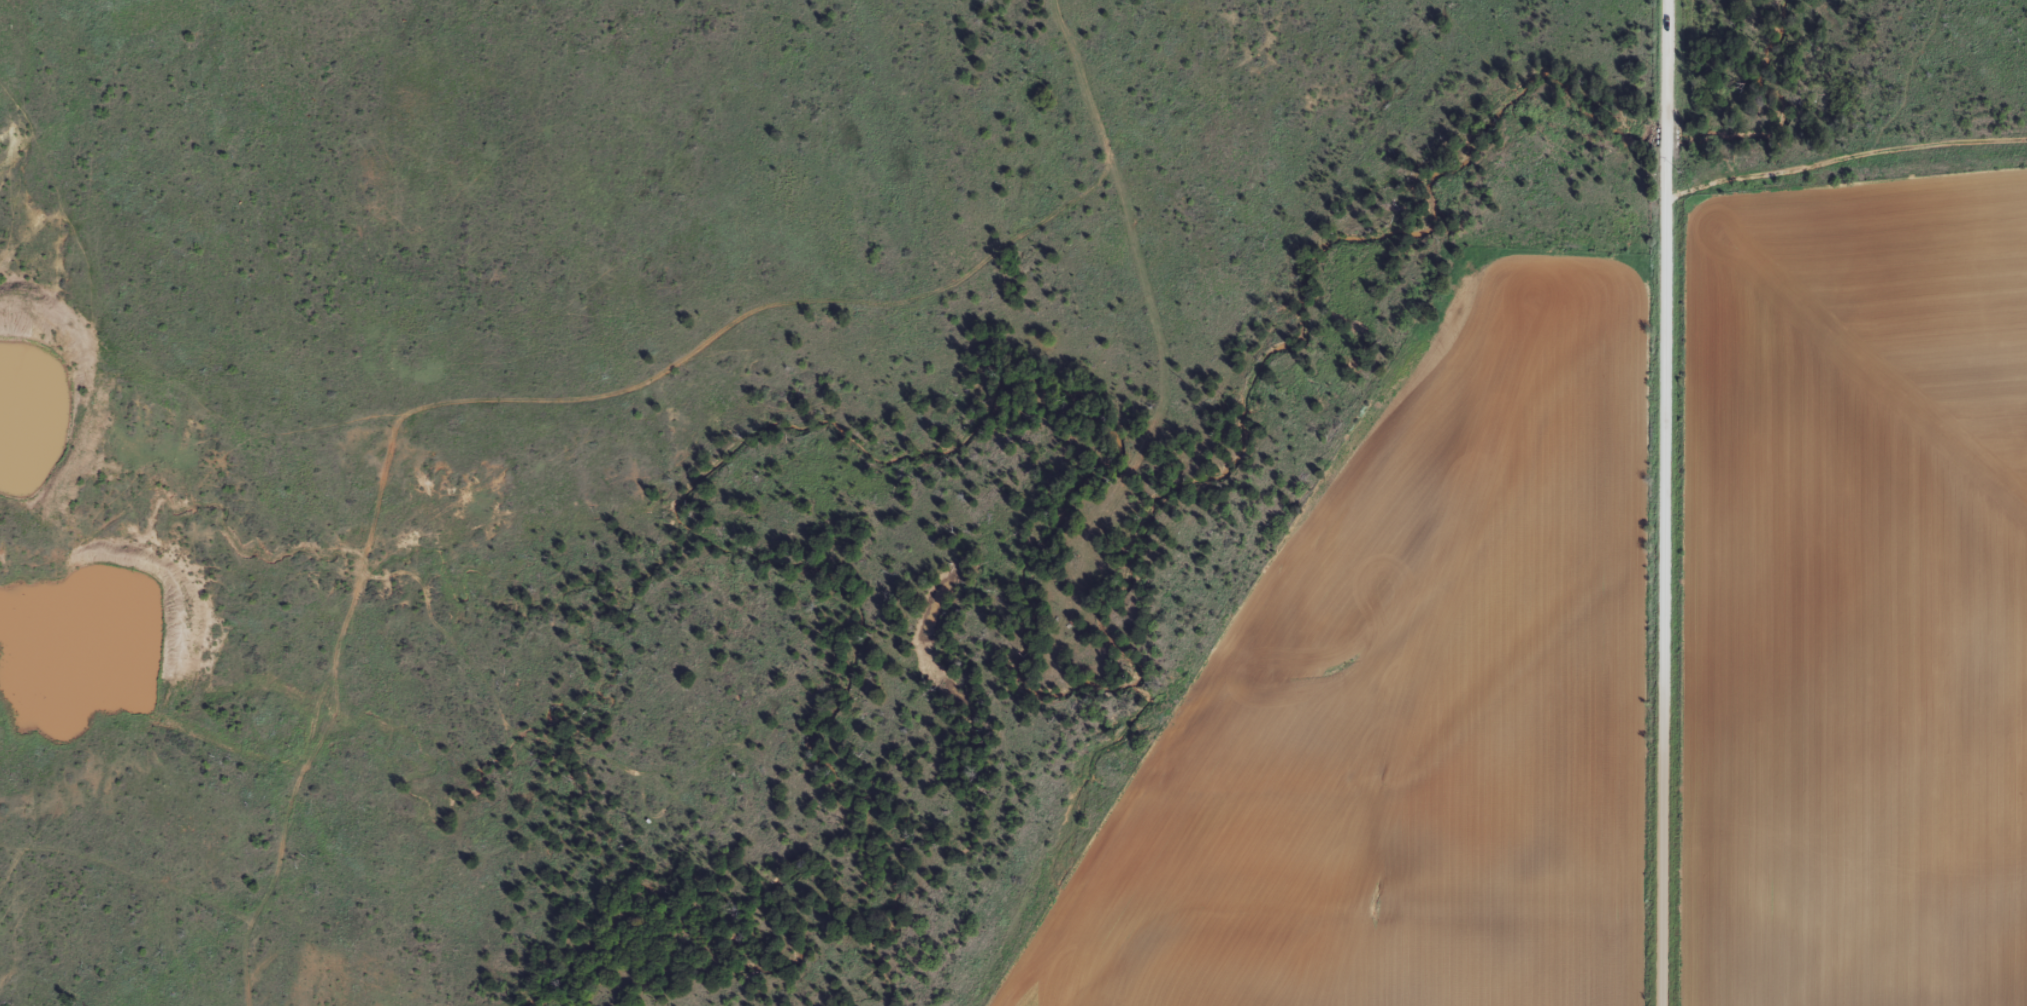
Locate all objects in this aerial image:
road: (1667, 502)

